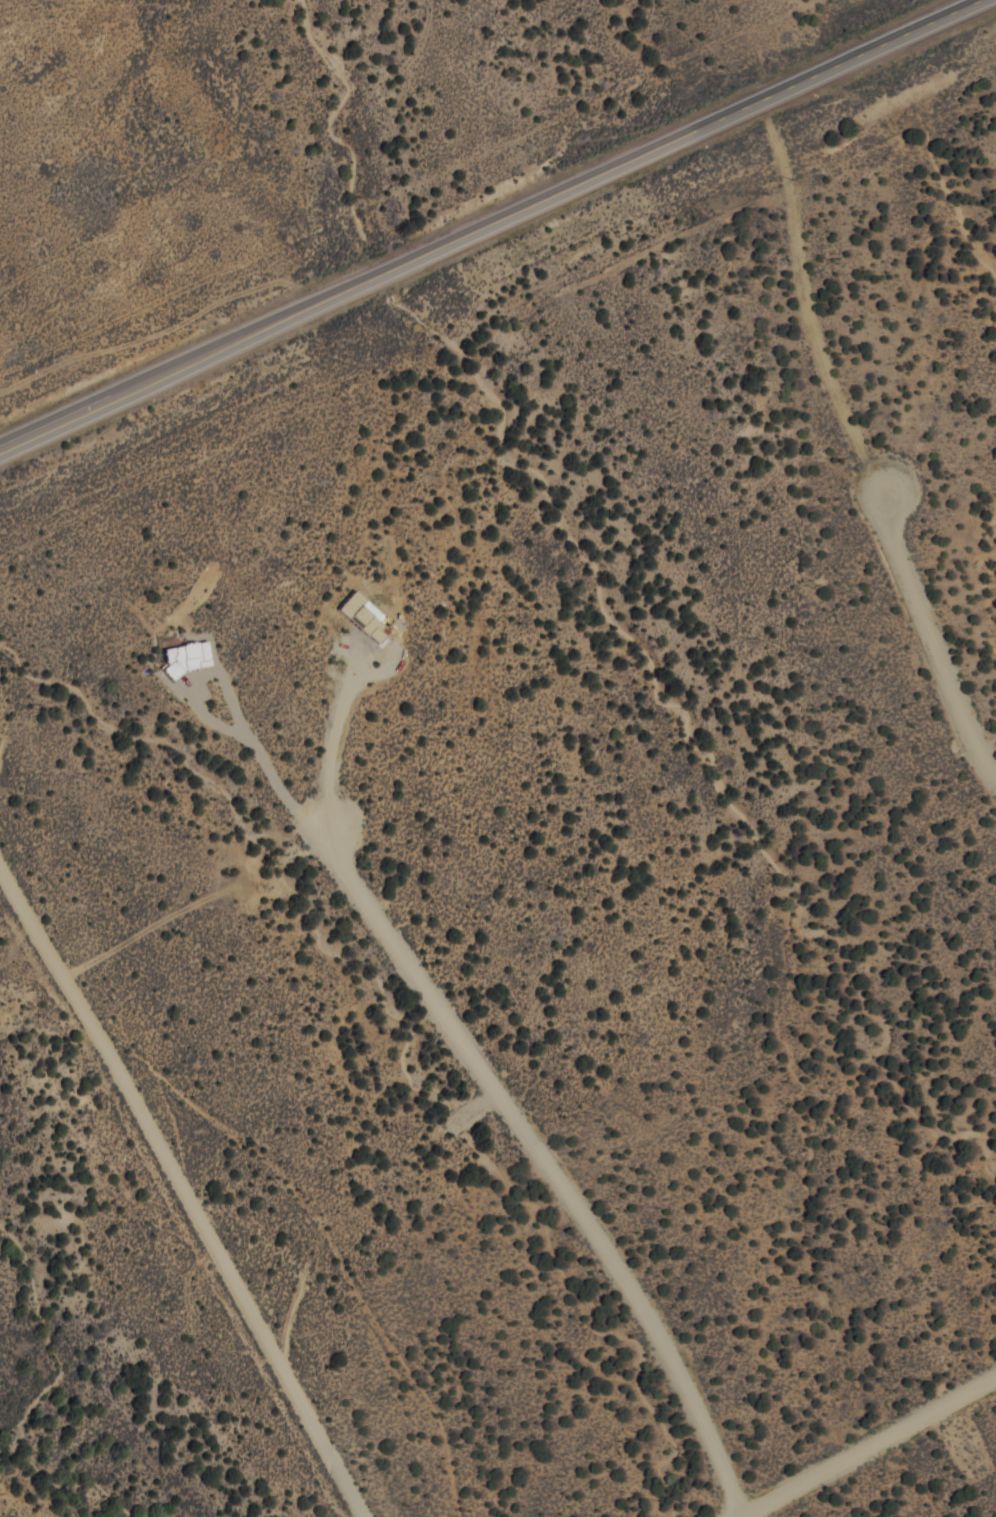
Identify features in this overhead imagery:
road: (487, 224)
building: (365, 615)
road: (935, 634)
building: (188, 656)
road: (546, 1162)
road: (181, 1187)
road: (867, 1445)
road: (741, 1516)

